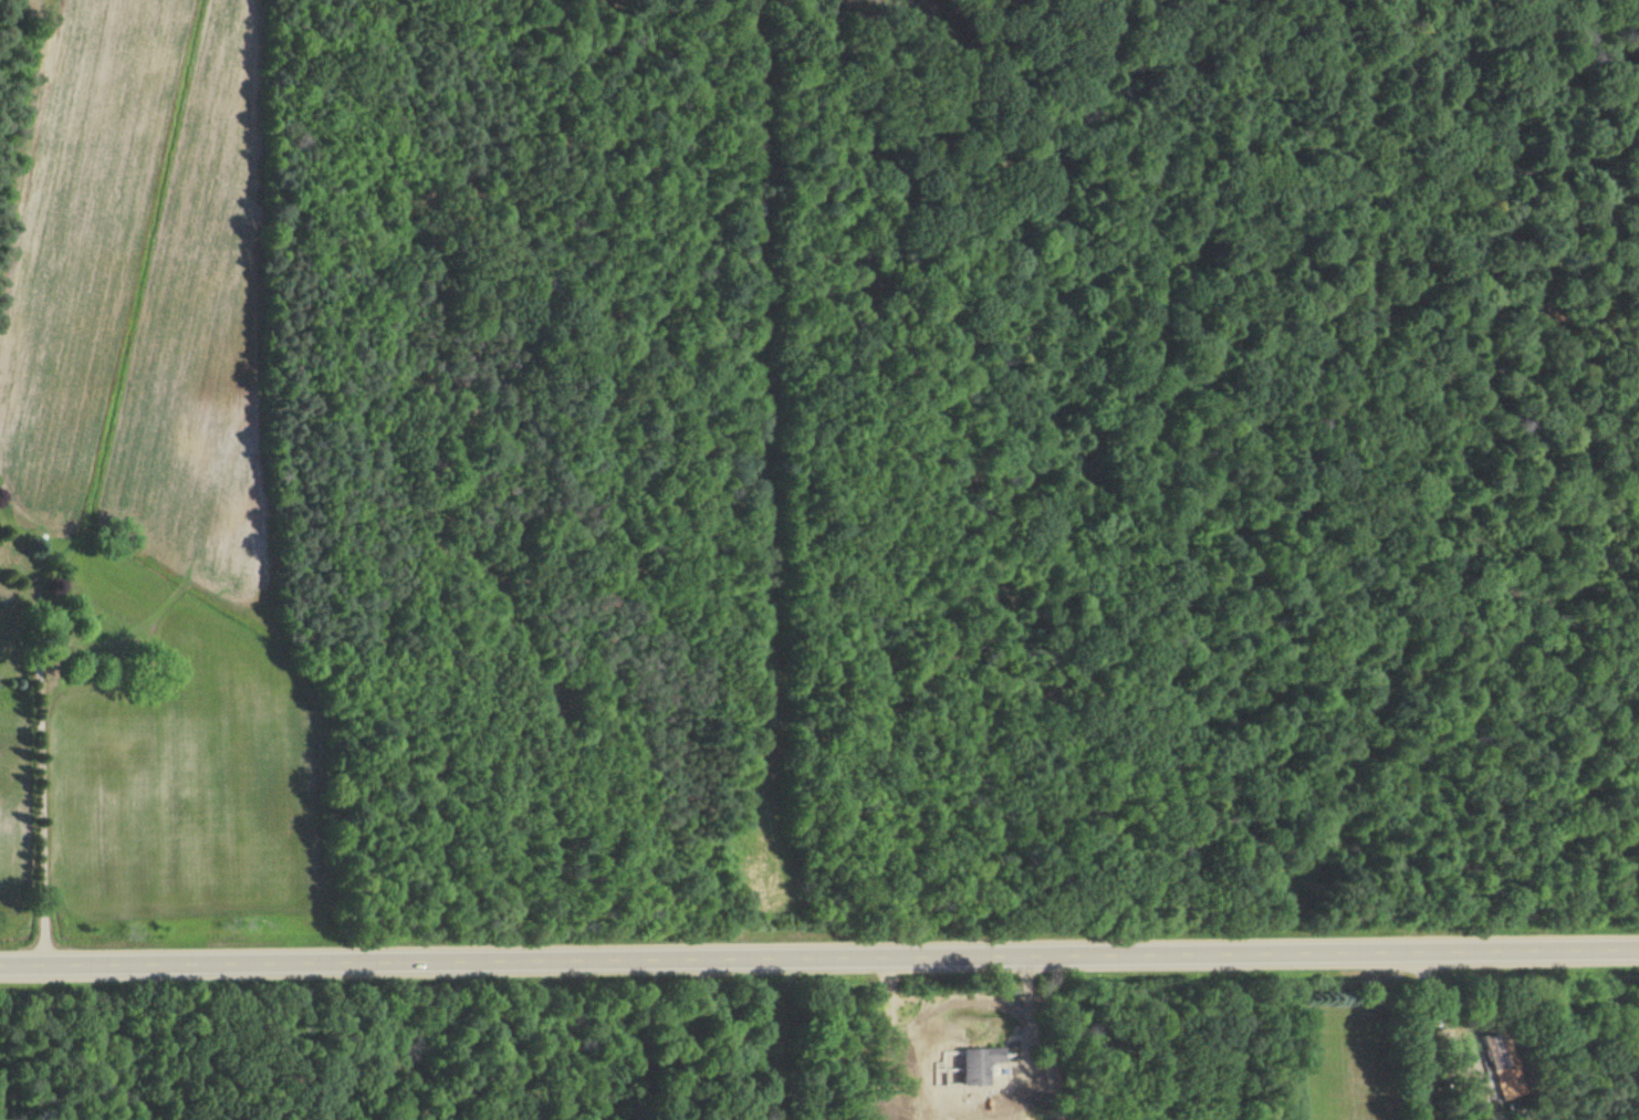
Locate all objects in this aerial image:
road: (42, 781)
road: (819, 959)
building: (1496, 1064)
building: (972, 1065)

